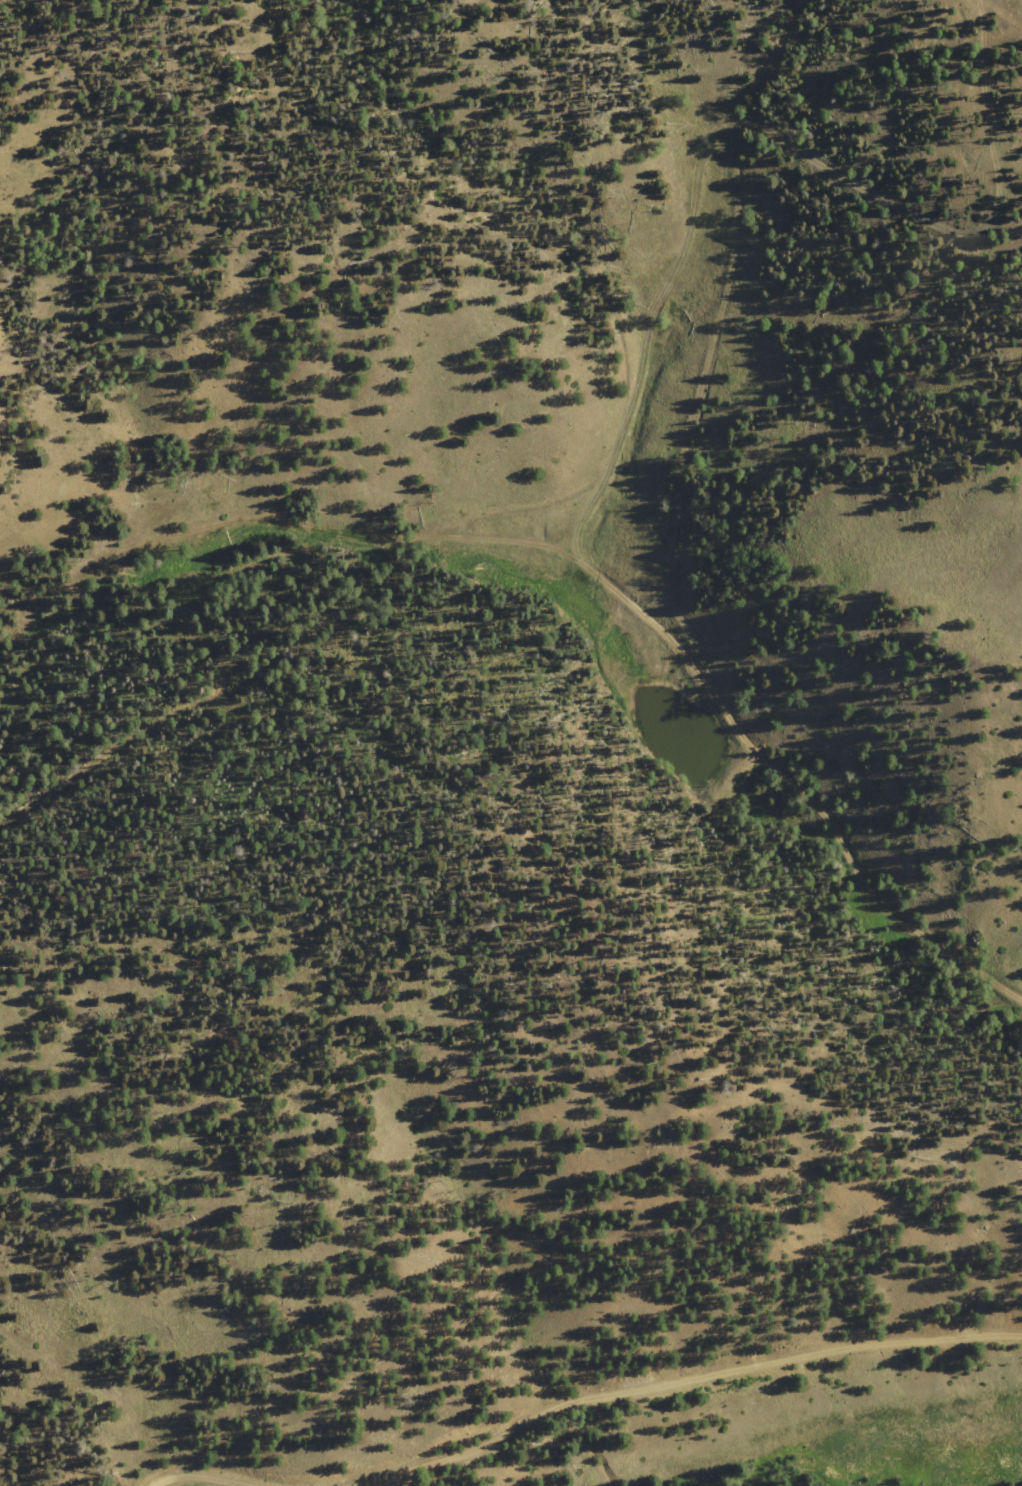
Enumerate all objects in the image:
road: (574, 534)
road: (716, 1371)

